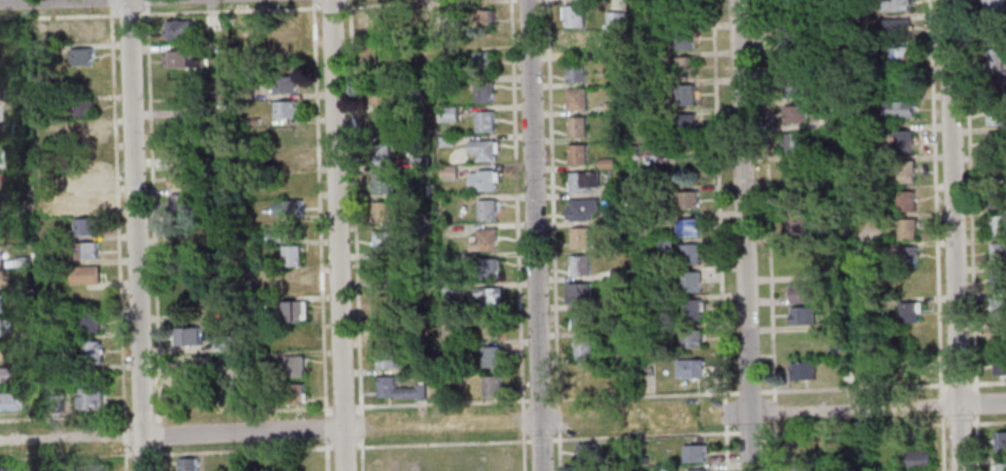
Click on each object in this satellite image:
road: (14, 0)
building: (835, 2)
road: (111, 3)
road: (312, 3)
road: (348, 3)
road: (418, 3)
road: (145, 4)
road: (330, 6)
building: (894, 6)
building: (991, 6)
building: (795, 7)
road: (225, 9)
road: (128, 13)
building: (681, 13)
road: (58, 14)
building: (573, 16)
building: (476, 19)
building: (613, 20)
building: (210, 22)
building: (375, 23)
building: (177, 29)
building: (893, 29)
building: (992, 32)
building: (79, 33)
building: (254, 39)
building: (683, 40)
building: (574, 44)
building: (43, 51)
building: (899, 56)
building: (80, 57)
building: (180, 60)
building: (401, 60)
building: (482, 60)
building: (791, 60)
building: (993, 60)
building: (684, 67)
building: (821, 68)
building: (574, 71)
building: (900, 81)
building: (282, 85)
building: (994, 87)
building: (792, 88)
building: (482, 92)
building: (8, 94)
building: (377, 94)
building: (685, 95)
building: (823, 96)
building: (184, 99)
building: (575, 99)
building: (81, 108)
building: (612, 108)
building: (284, 110)
building: (899, 110)
building: (447, 114)
building: (794, 114)
building: (995, 115)
building: (484, 121)
building: (684, 123)
building: (381, 126)
building: (576, 127)
building: (16, 128)
building: (417, 133)
building: (82, 134)
building: (445, 141)
building: (903, 141)
building: (995, 142)
building: (793, 143)
building: (482, 150)
building: (652, 153)
building: (380, 154)
building: (577, 155)
building: (0, 158)
building: (285, 160)
building: (418, 162)
building: (605, 163)
building: (902, 170)
building: (996, 171)
building: (448, 172)
building: (83, 178)
building: (179, 178)
building: (481, 181)
building: (583, 182)
building: (380, 183)
building: (288, 184)
building: (49, 186)
building: (616, 189)
building: (419, 191)
building: (996, 198)
road: (768, 199)
building: (687, 200)
road: (719, 200)
building: (905, 202)
building: (84, 203)
building: (181, 203)
building: (287, 208)
road: (355, 209)
road: (318, 210)
building: (487, 210)
building: (582, 210)
building: (381, 212)
road: (151, 214)
road: (117, 215)
building: (617, 216)
building: (796, 221)
building: (997, 226)
building: (85, 227)
building: (9, 228)
building: (687, 229)
building: (906, 229)
building: (837, 233)
road: (134, 235)
road: (335, 235)
road: (517, 235)
road: (533, 235)
road: (553, 235)
road: (743, 235)
road: (936, 235)
road: (951, 235)
road: (971, 235)
building: (51, 236)
building: (273, 237)
building: (579, 238)
building: (485, 240)
building: (382, 241)
building: (665, 246)
building: (85, 251)
building: (998, 254)
building: (690, 255)
building: (290, 256)
building: (907, 256)
building: (21, 262)
building: (581, 266)
building: (488, 269)
building: (386, 272)
building: (618, 274)
building: (84, 276)
building: (1, 279)
building: (690, 281)
building: (998, 281)
building: (290, 284)
building: (451, 289)
building: (579, 294)
building: (803, 294)
building: (490, 298)
building: (385, 300)
building: (617, 300)
building: (998, 309)
building: (692, 310)
building: (291, 311)
building: (908, 312)
building: (802, 315)
building: (582, 322)
building: (88, 323)
building: (489, 328)
building: (385, 329)
building: (615, 329)
building: (186, 336)
building: (997, 337)
building: (690, 339)
building: (221, 344)
building: (453, 348)
building: (583, 349)
building: (91, 353)
building: (490, 357)
building: (385, 358)
building: (424, 365)
building: (999, 365)
building: (58, 366)
building: (187, 366)
building: (294, 367)
building: (910, 368)
building: (689, 369)
building: (803, 372)
building: (847, 374)
building: (3, 376)
road: (987, 382)
road: (958, 384)
building: (491, 386)
road: (854, 387)
road: (749, 390)
building: (399, 391)
building: (294, 395)
building: (90, 399)
building: (29, 400)
road: (546, 400)
building: (7, 401)
building: (53, 404)
road: (272, 407)
road: (342, 407)
road: (877, 408)
road: (302, 409)
road: (774, 410)
road: (725, 411)
road: (140, 414)
road: (155, 414)
road: (64, 417)
street lamp: (971, 419)
road: (988, 423)
road: (361, 426)
road: (865, 426)
road: (325, 427)
street lamp: (732, 428)
road: (749, 430)
road: (242, 432)
road: (159, 434)
road: (124, 436)
road: (62, 437)
road: (547, 439)
building: (1001, 441)
road: (342, 446)
road: (726, 446)
road: (774, 446)
road: (242, 451)
building: (588, 453)
building: (697, 453)
road: (142, 454)
road: (326, 454)
road: (361, 455)
road: (65, 456)
building: (629, 458)
building: (919, 458)
road: (125, 459)
road: (159, 459)
building: (189, 464)
building: (93, 467)
building: (668, 467)
building: (1000, 467)
building: (1, 468)
building: (699, 469)
building: (805, 469)

